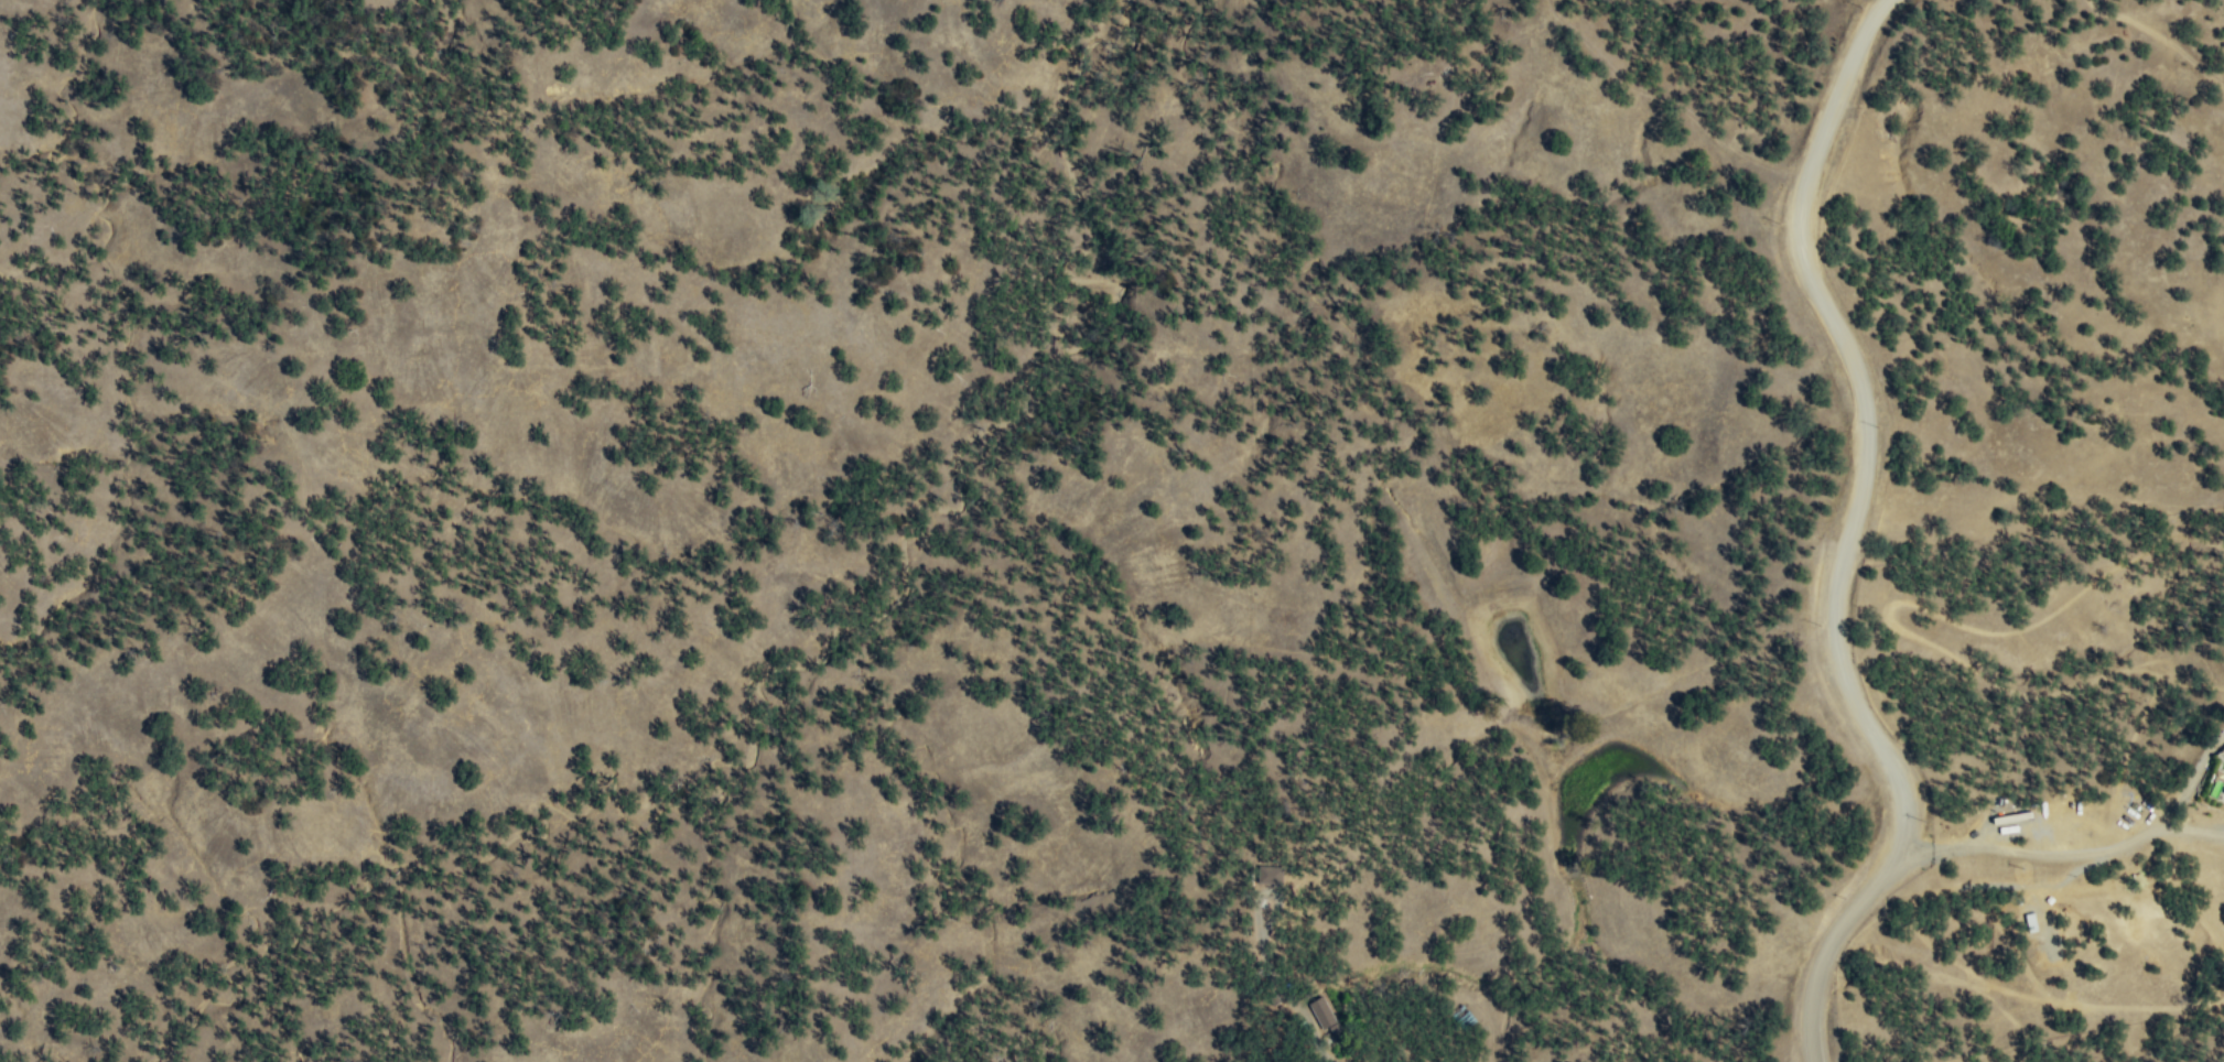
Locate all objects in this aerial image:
road: (2162, 35)
road: (1673, 100)
road: (1854, 534)
building: (1264, 874)
building: (1319, 1016)

